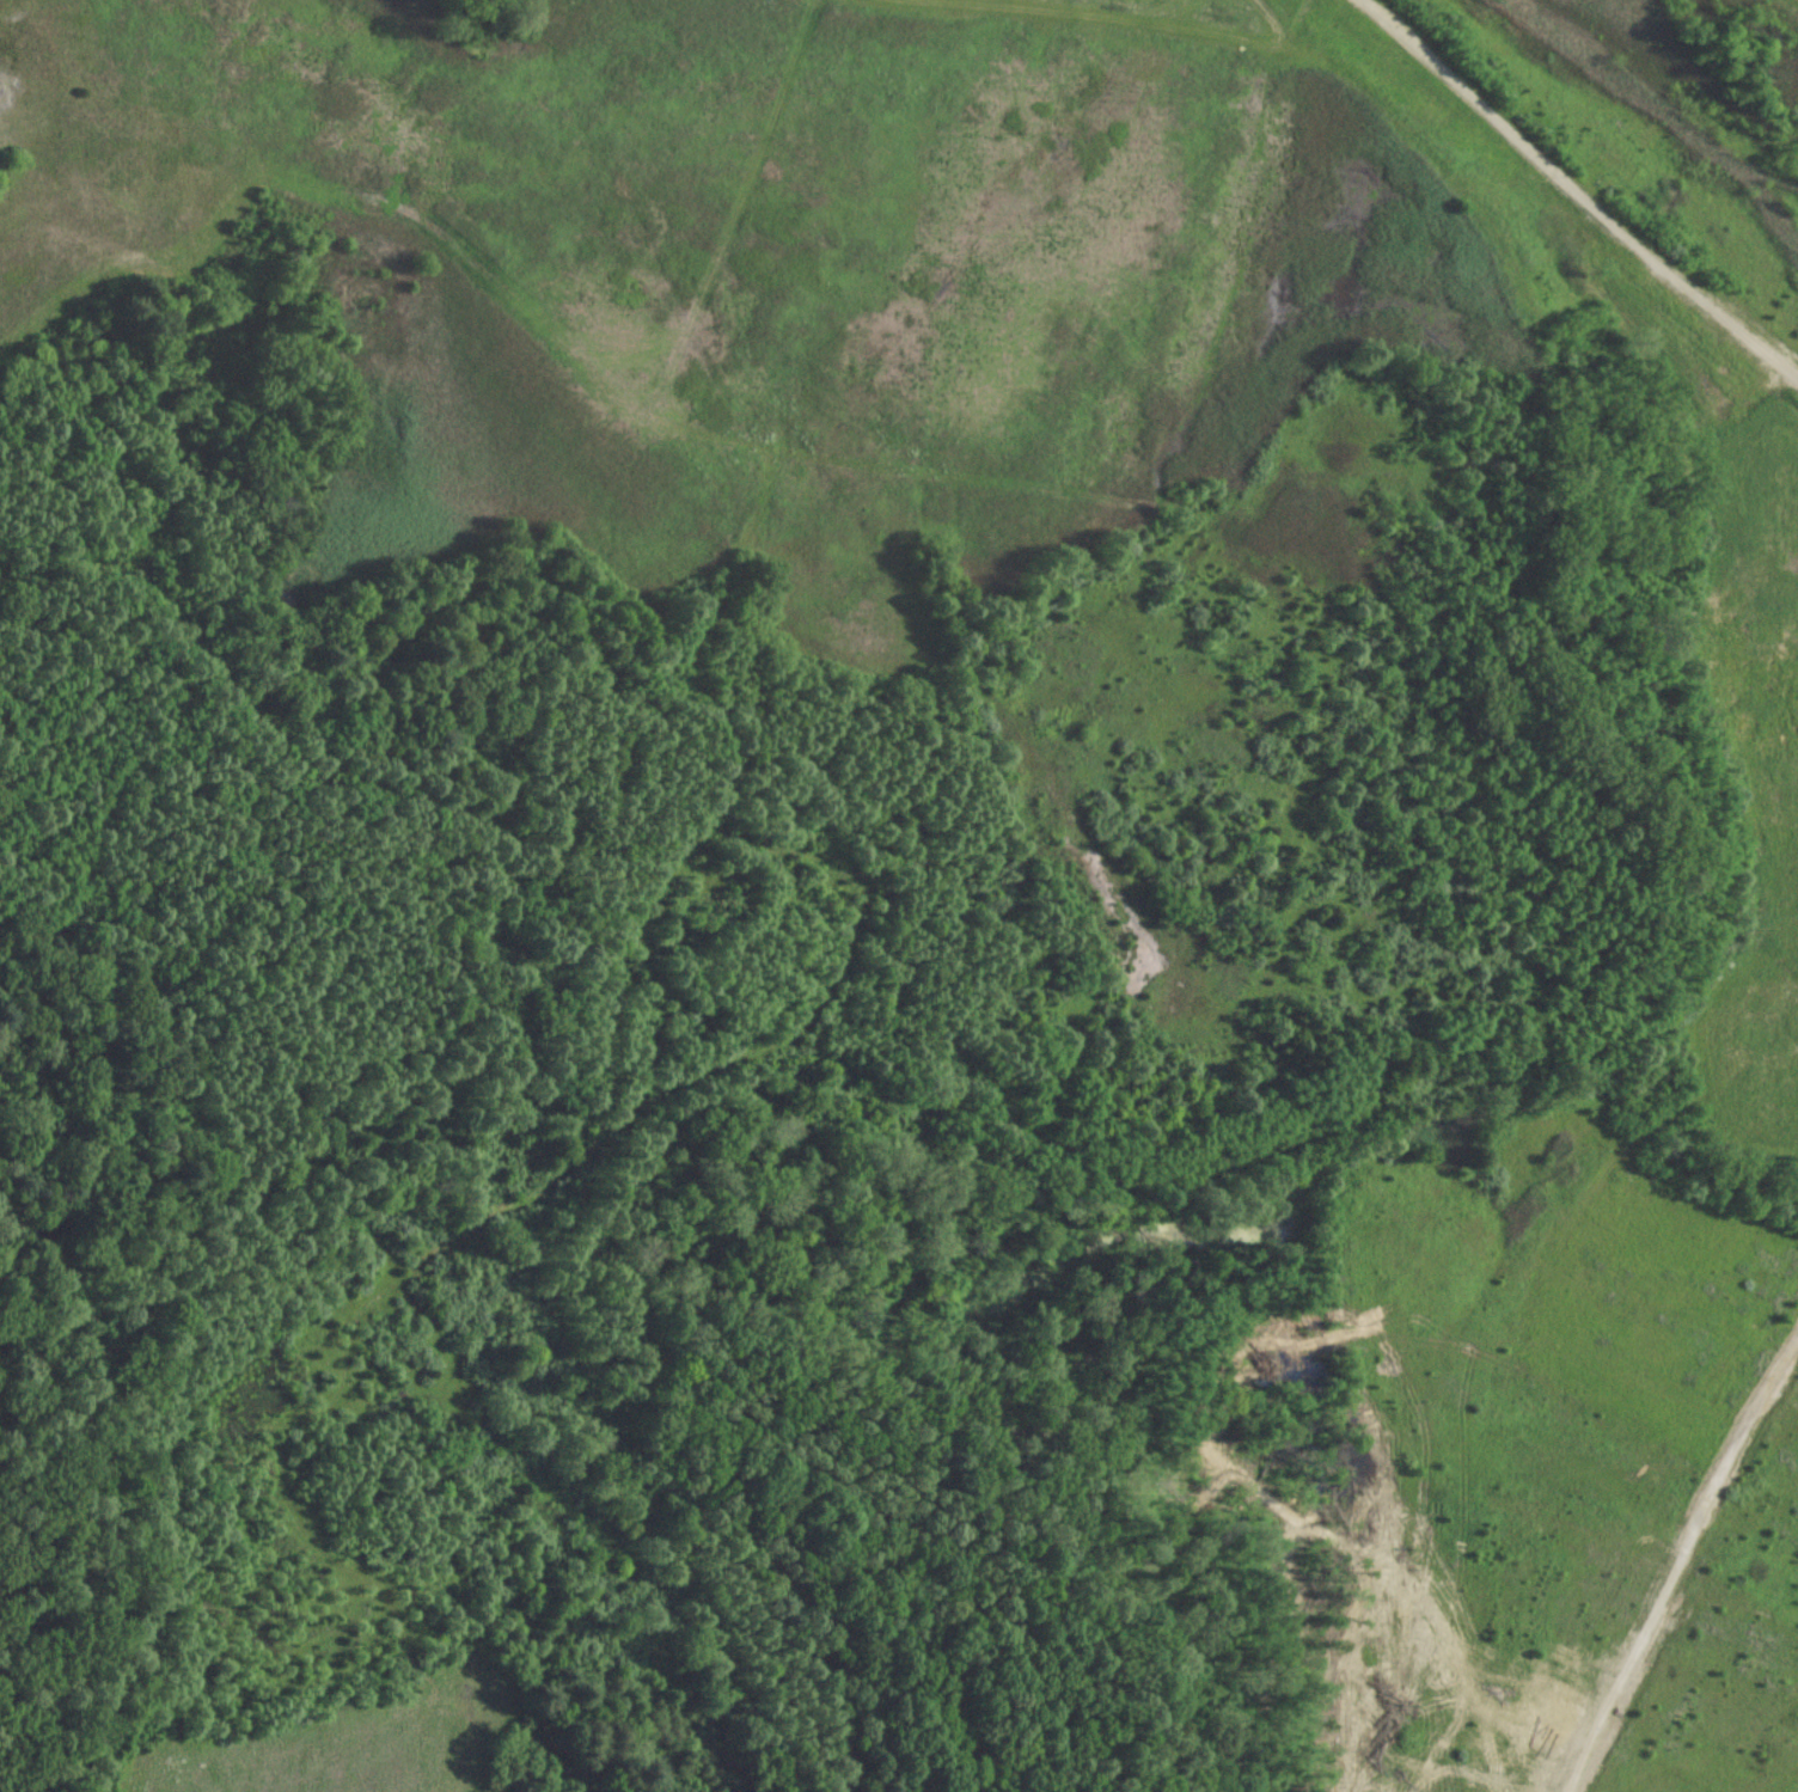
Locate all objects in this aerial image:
road: (1579, 189)
road: (1690, 1549)

